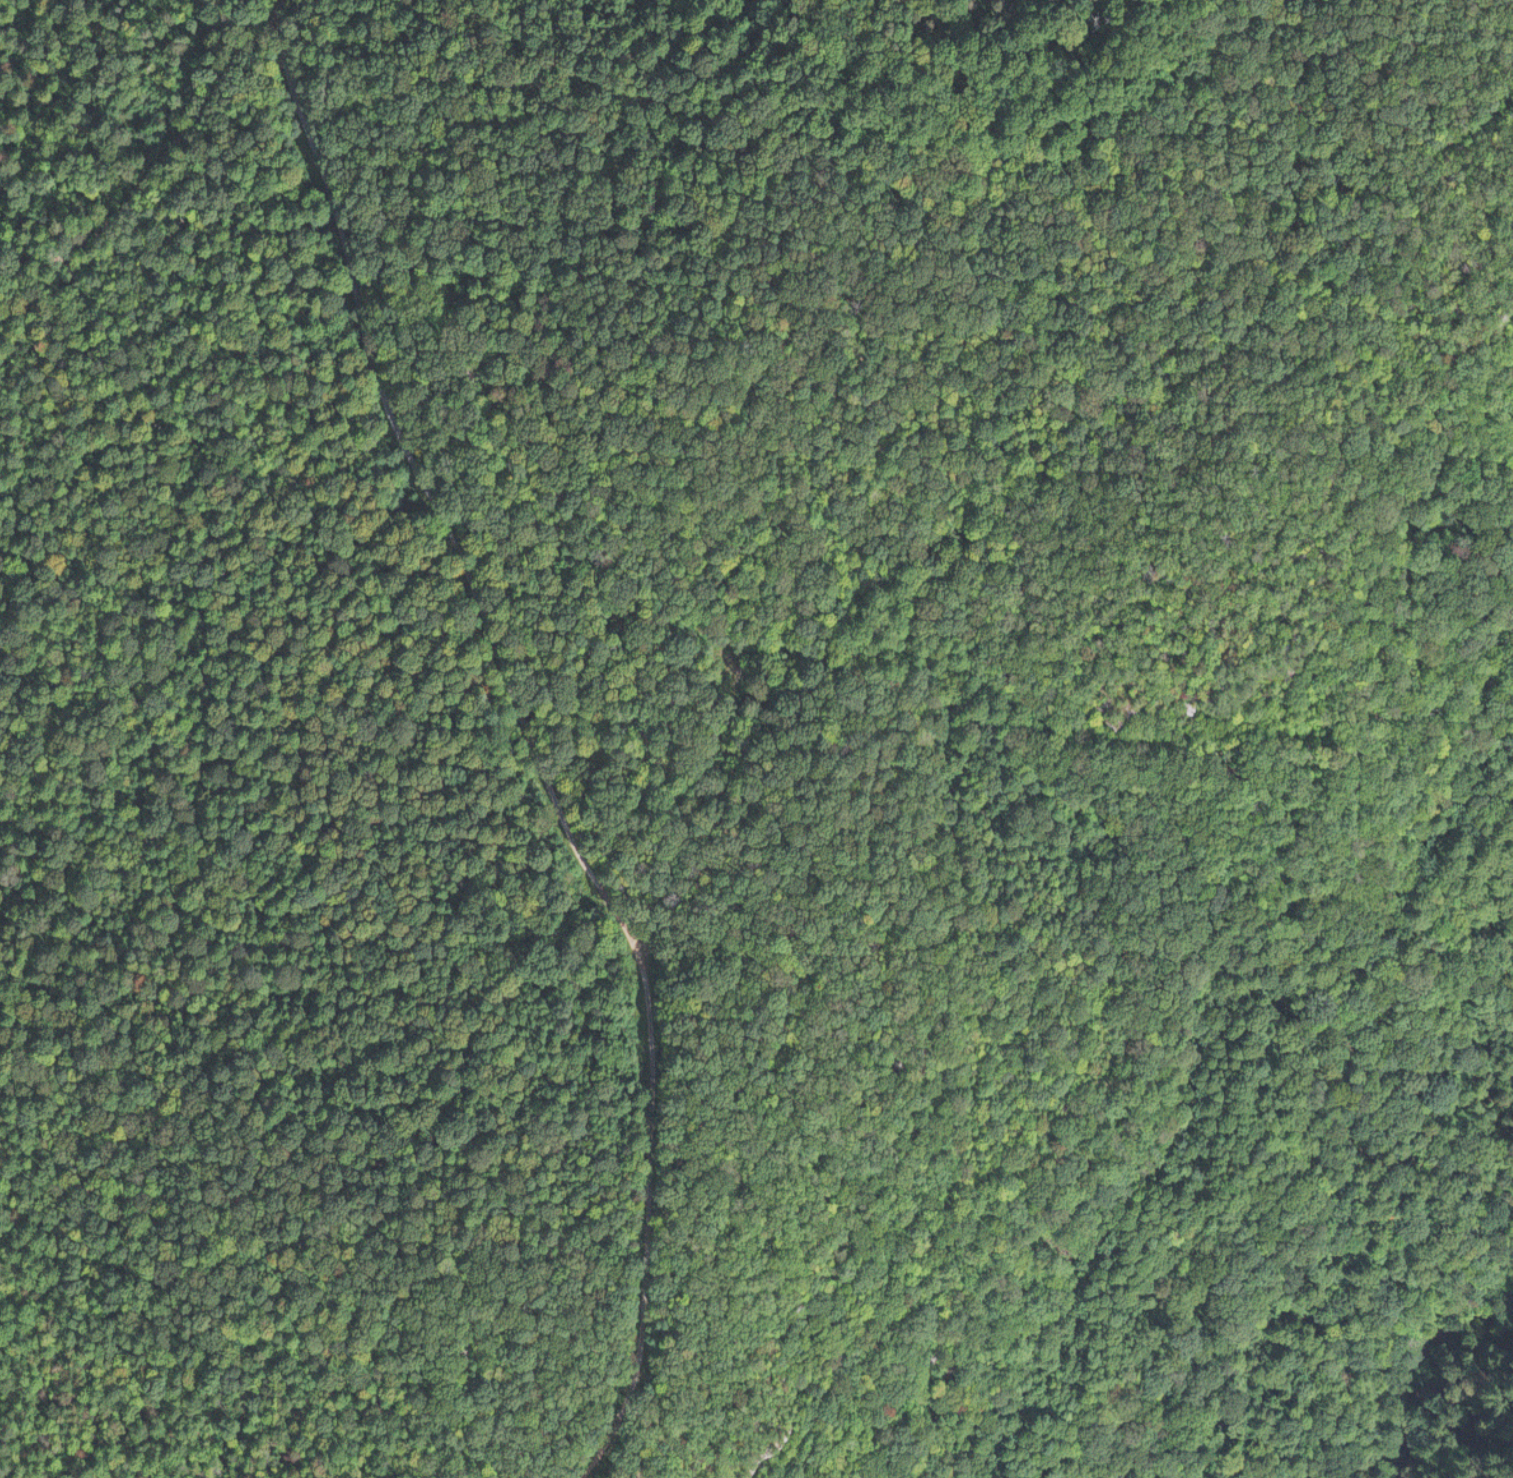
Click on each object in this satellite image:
road: (259, 55)
road: (116, 193)

